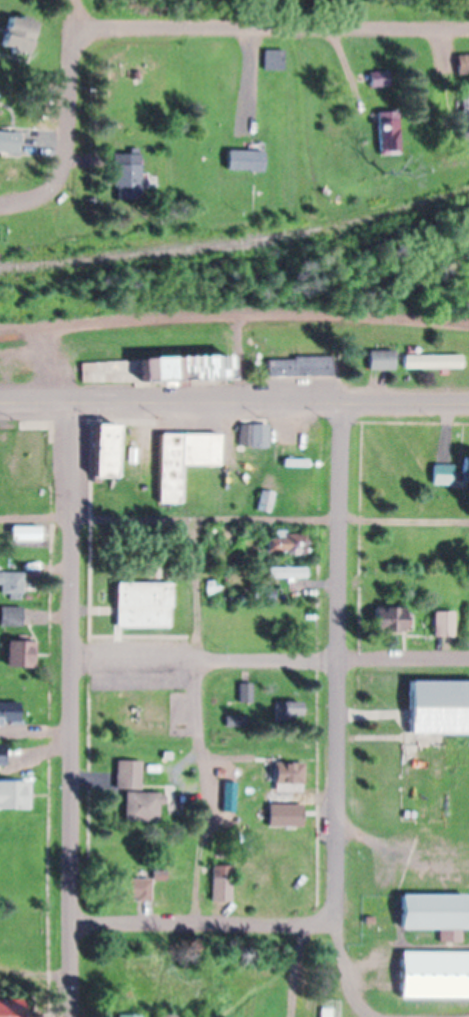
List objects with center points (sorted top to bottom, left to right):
road: (272, 29)
building: (22, 37)
building: (277, 62)
building: (460, 66)
building: (382, 81)
building: (465, 118)
road: (71, 126)
building: (390, 134)
building: (248, 162)
building: (27, 164)
building: (131, 178)
railway: (332, 240)
railway: (237, 244)
road: (234, 317)
road: (246, 361)
building: (382, 362)
building: (433, 363)
building: (301, 366)
building: (159, 369)
road: (234, 405)
road: (406, 424)
building: (254, 436)
building: (108, 450)
building: (35, 460)
building: (186, 460)
building: (466, 471)
building: (445, 477)
road: (234, 522)
building: (27, 537)
road: (363, 541)
building: (289, 546)
building: (290, 575)
building: (12, 587)
building: (146, 606)
building: (13, 619)
building: (393, 623)
building: (445, 627)
road: (146, 639)
building: (21, 657)
road: (403, 660)
road: (206, 661)
road: (338, 665)
road: (92, 666)
building: (248, 695)
road: (54, 710)
road: (74, 710)
building: (440, 710)
building: (291, 713)
building: (11, 716)
park: (138, 717)
road: (320, 723)
road: (202, 724)
building: (238, 724)
building: (4, 759)
building: (288, 775)
building: (138, 797)
building: (16, 799)
building: (287, 818)
park: (386, 866)
building: (224, 886)
building: (136, 892)
building: (436, 917)
road: (204, 927)
road: (296, 971)
road: (349, 973)
building: (435, 977)
building: (8, 1005)
building: (328, 1011)
building: (130, 1016)
building: (169, 1016)

